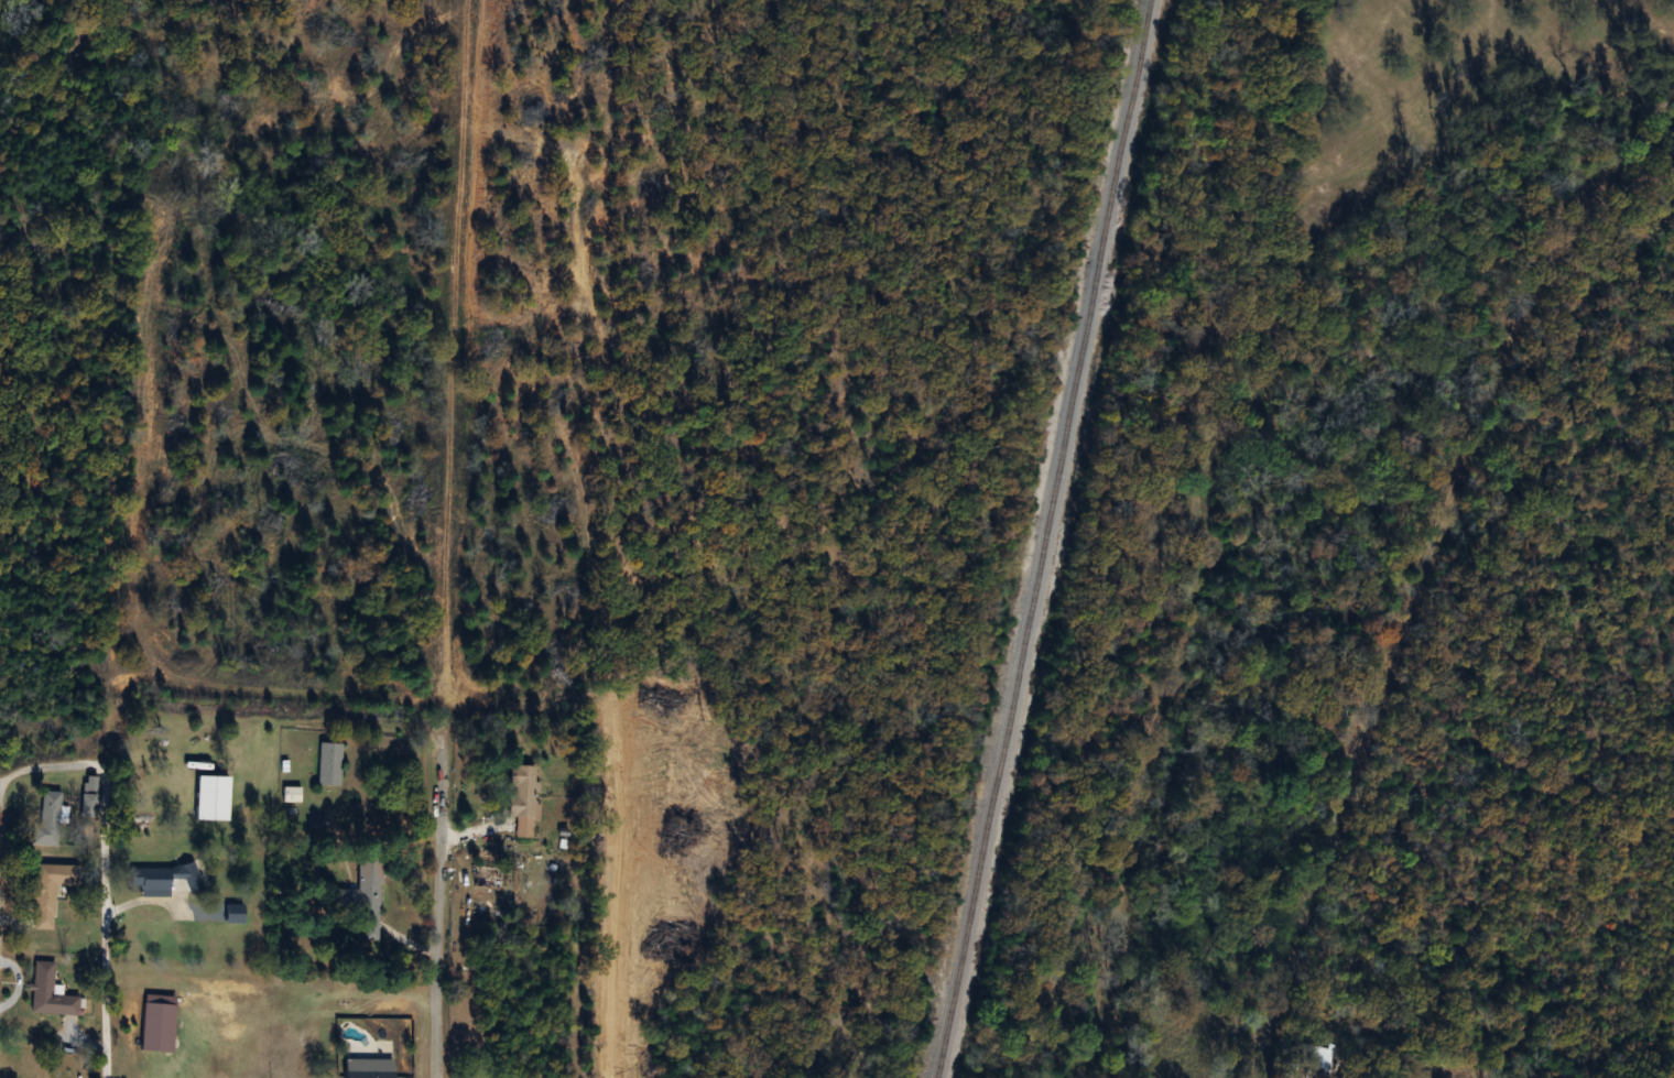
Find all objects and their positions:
road: (459, 367)
railway: (1053, 537)
building: (329, 764)
building: (292, 794)
building: (213, 797)
building: (89, 798)
building: (523, 799)
building: (47, 818)
road: (107, 835)
building: (164, 880)
building: (51, 885)
building: (363, 895)
road: (442, 905)
building: (50, 992)
building: (1317, 1056)
building: (369, 1068)

